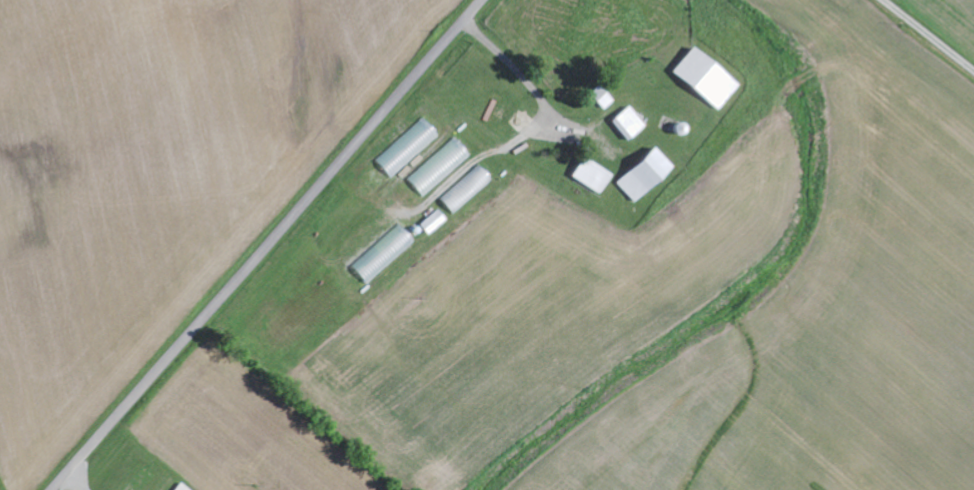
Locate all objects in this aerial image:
road: (930, 34)
building: (703, 79)
building: (600, 98)
building: (626, 124)
building: (406, 149)
building: (438, 168)
building: (641, 175)
building: (588, 176)
building: (464, 191)
building: (431, 223)
road: (266, 244)
building: (382, 255)
building: (181, 488)

